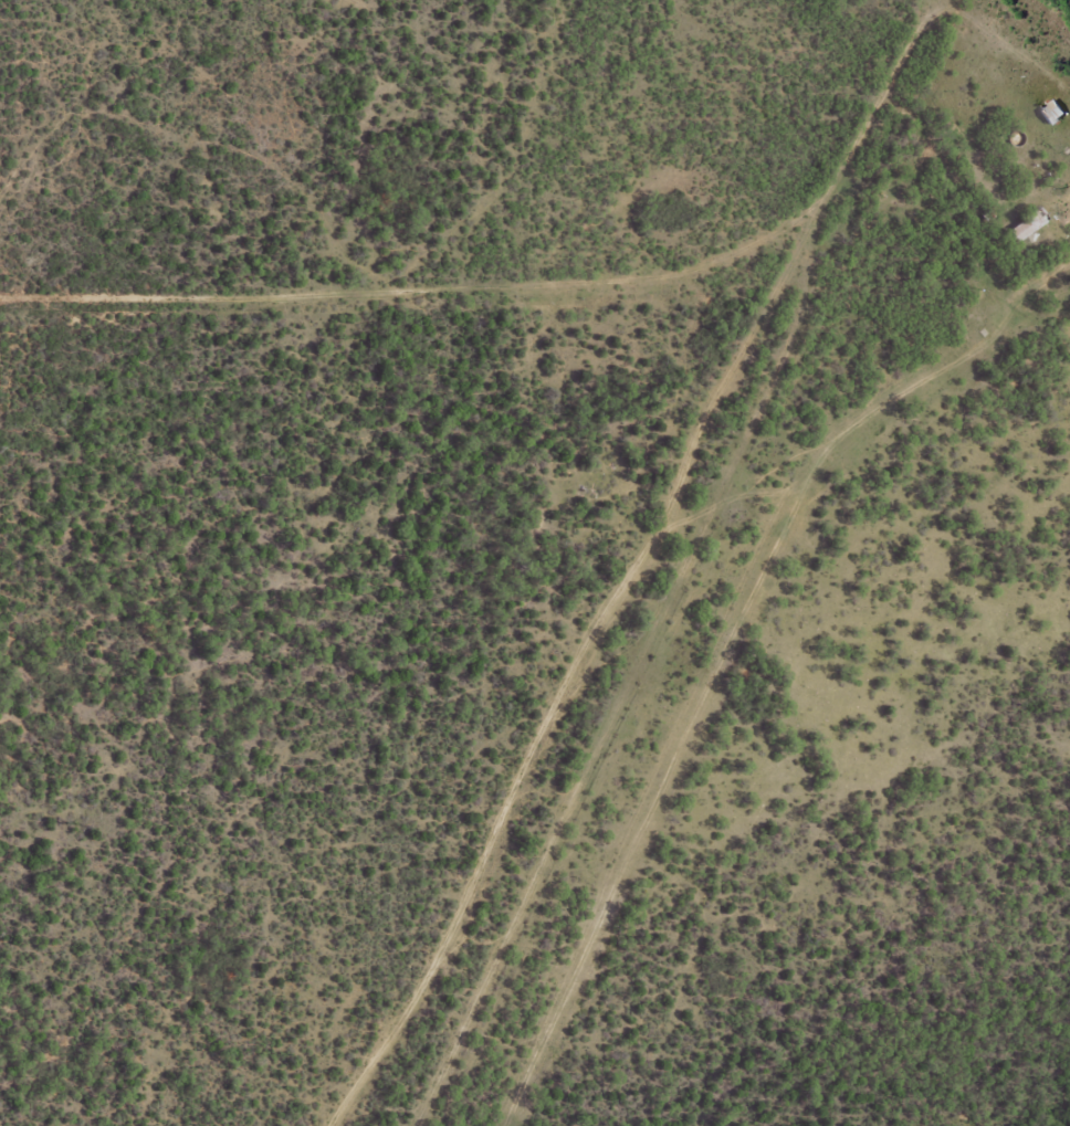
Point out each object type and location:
road: (1014, 70)
building: (1050, 113)
building: (1025, 225)
road: (1060, 249)
road: (486, 251)

